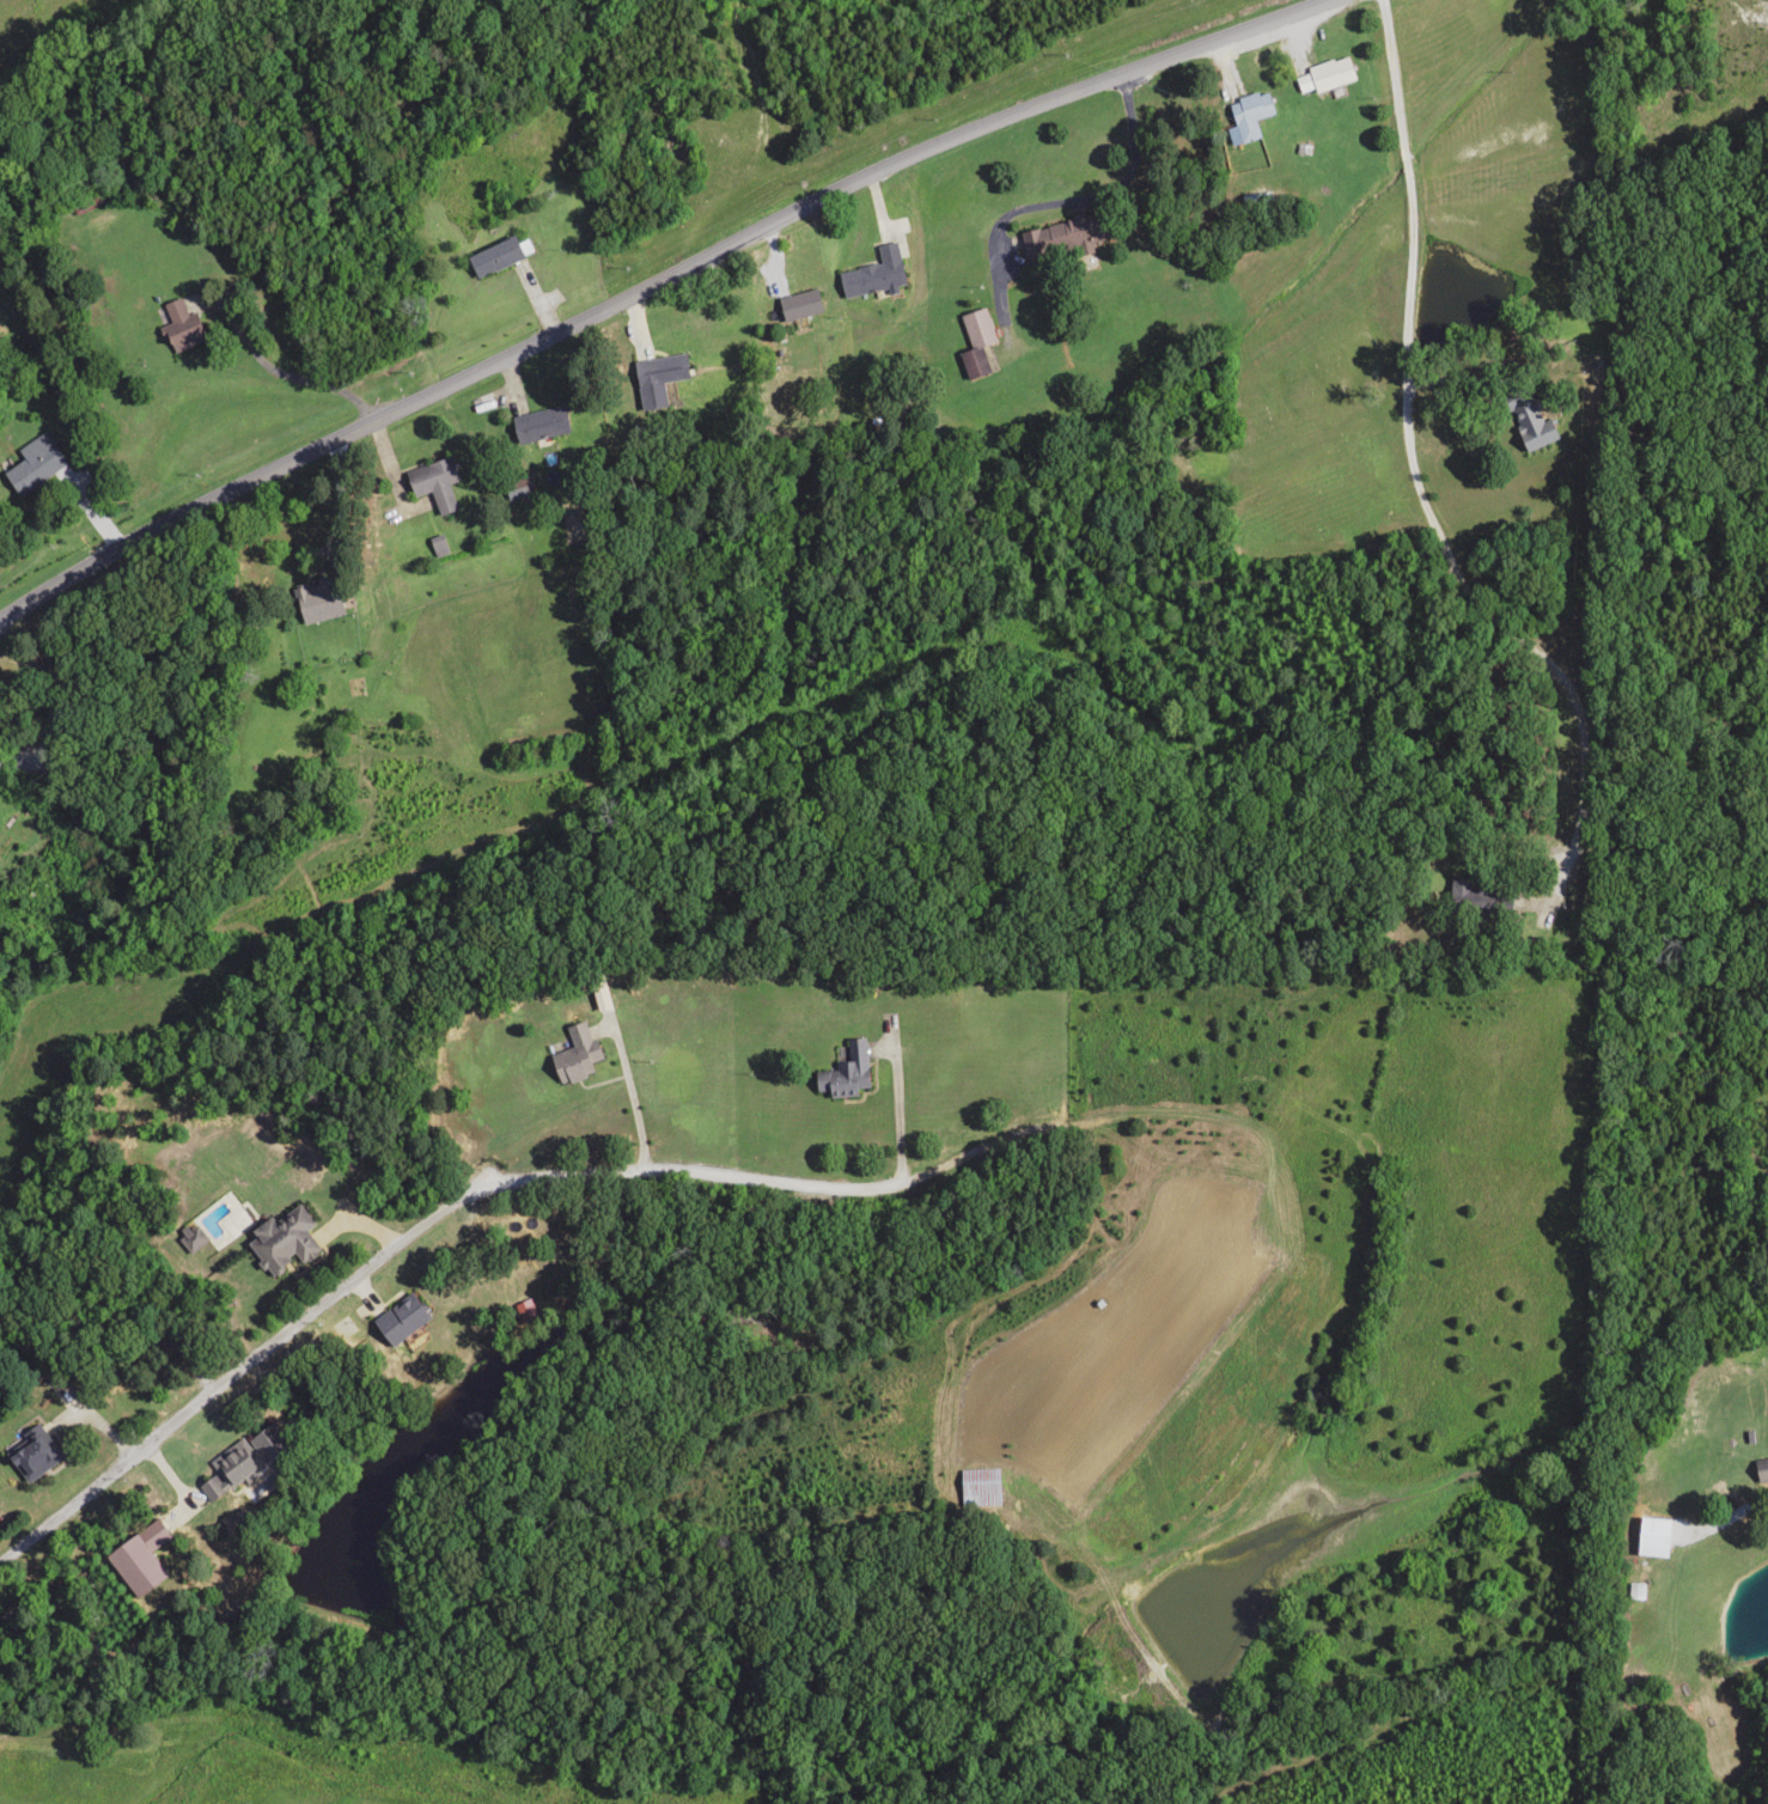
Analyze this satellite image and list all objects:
building: (1322, 74)
building: (1246, 114)
building: (1050, 238)
building: (492, 257)
building: (872, 273)
road: (670, 290)
building: (797, 304)
building: (178, 327)
building: (974, 342)
building: (654, 379)
building: (1526, 422)
building: (537, 425)
building: (29, 464)
building: (432, 483)
building: (516, 488)
road: (1053, 507)
building: (315, 601)
road: (1360, 841)
building: (573, 1055)
building: (843, 1072)
building: (280, 1241)
building: (396, 1318)
building: (29, 1452)
building: (228, 1468)
building: (976, 1486)
building: (1633, 1590)

